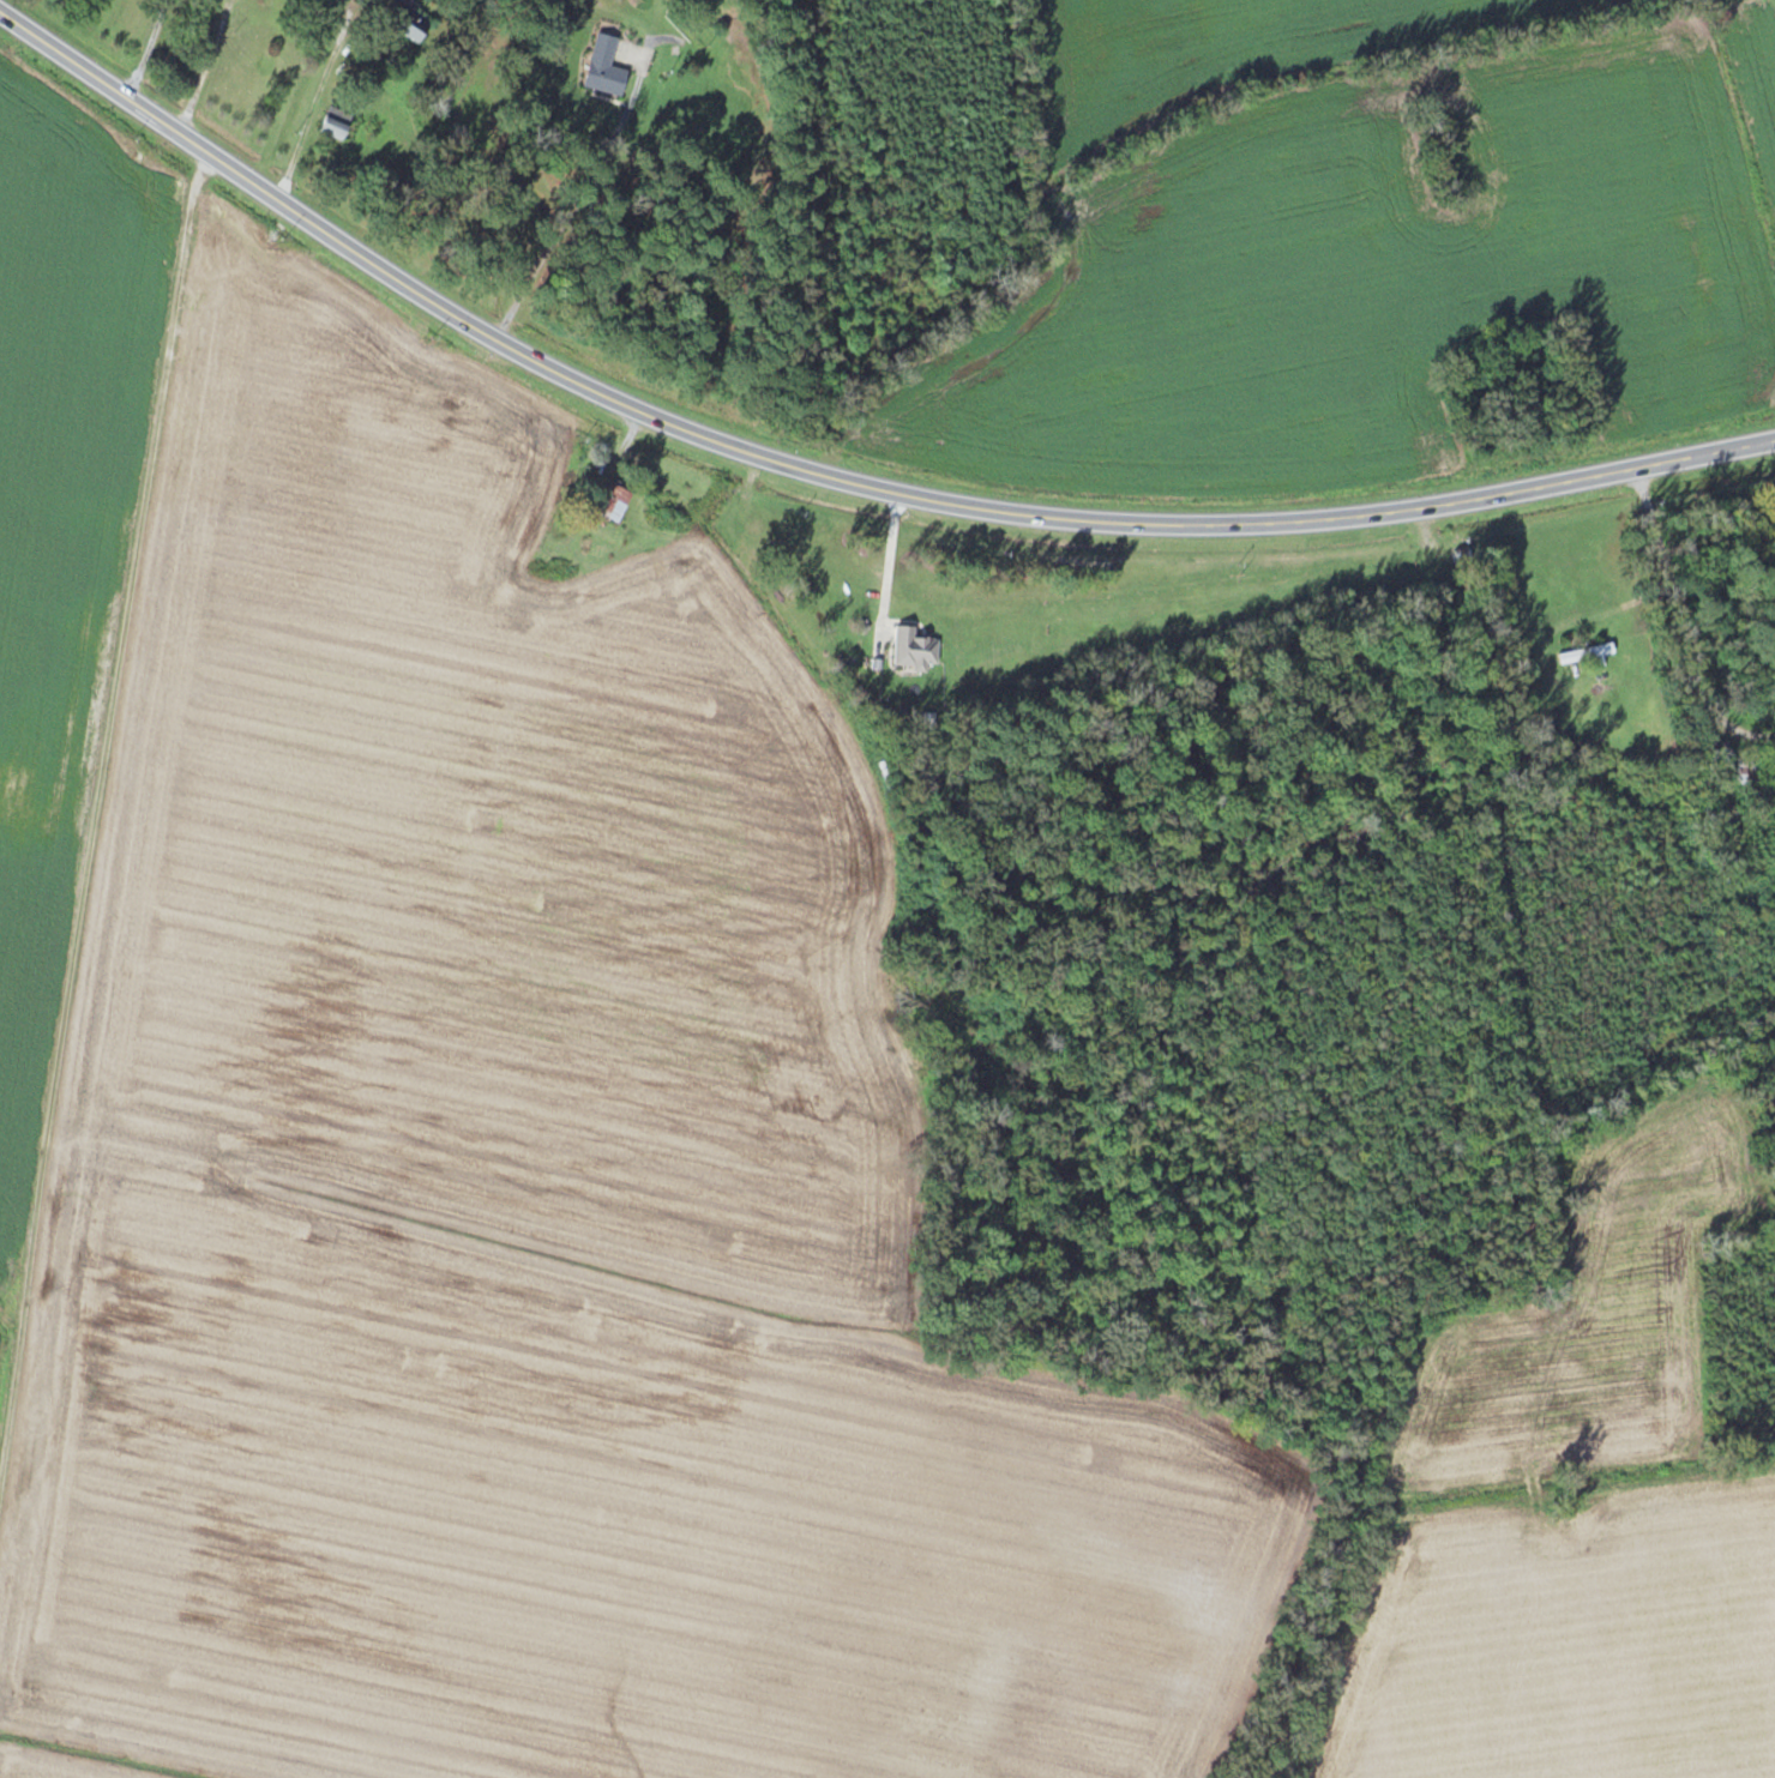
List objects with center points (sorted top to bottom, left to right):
building: (395, 18)
building: (597, 65)
road: (207, 66)
building: (717, 70)
road: (282, 101)
road: (312, 113)
building: (326, 121)
building: (391, 385)
road: (830, 478)
building: (609, 502)
building: (1596, 646)
building: (910, 649)

